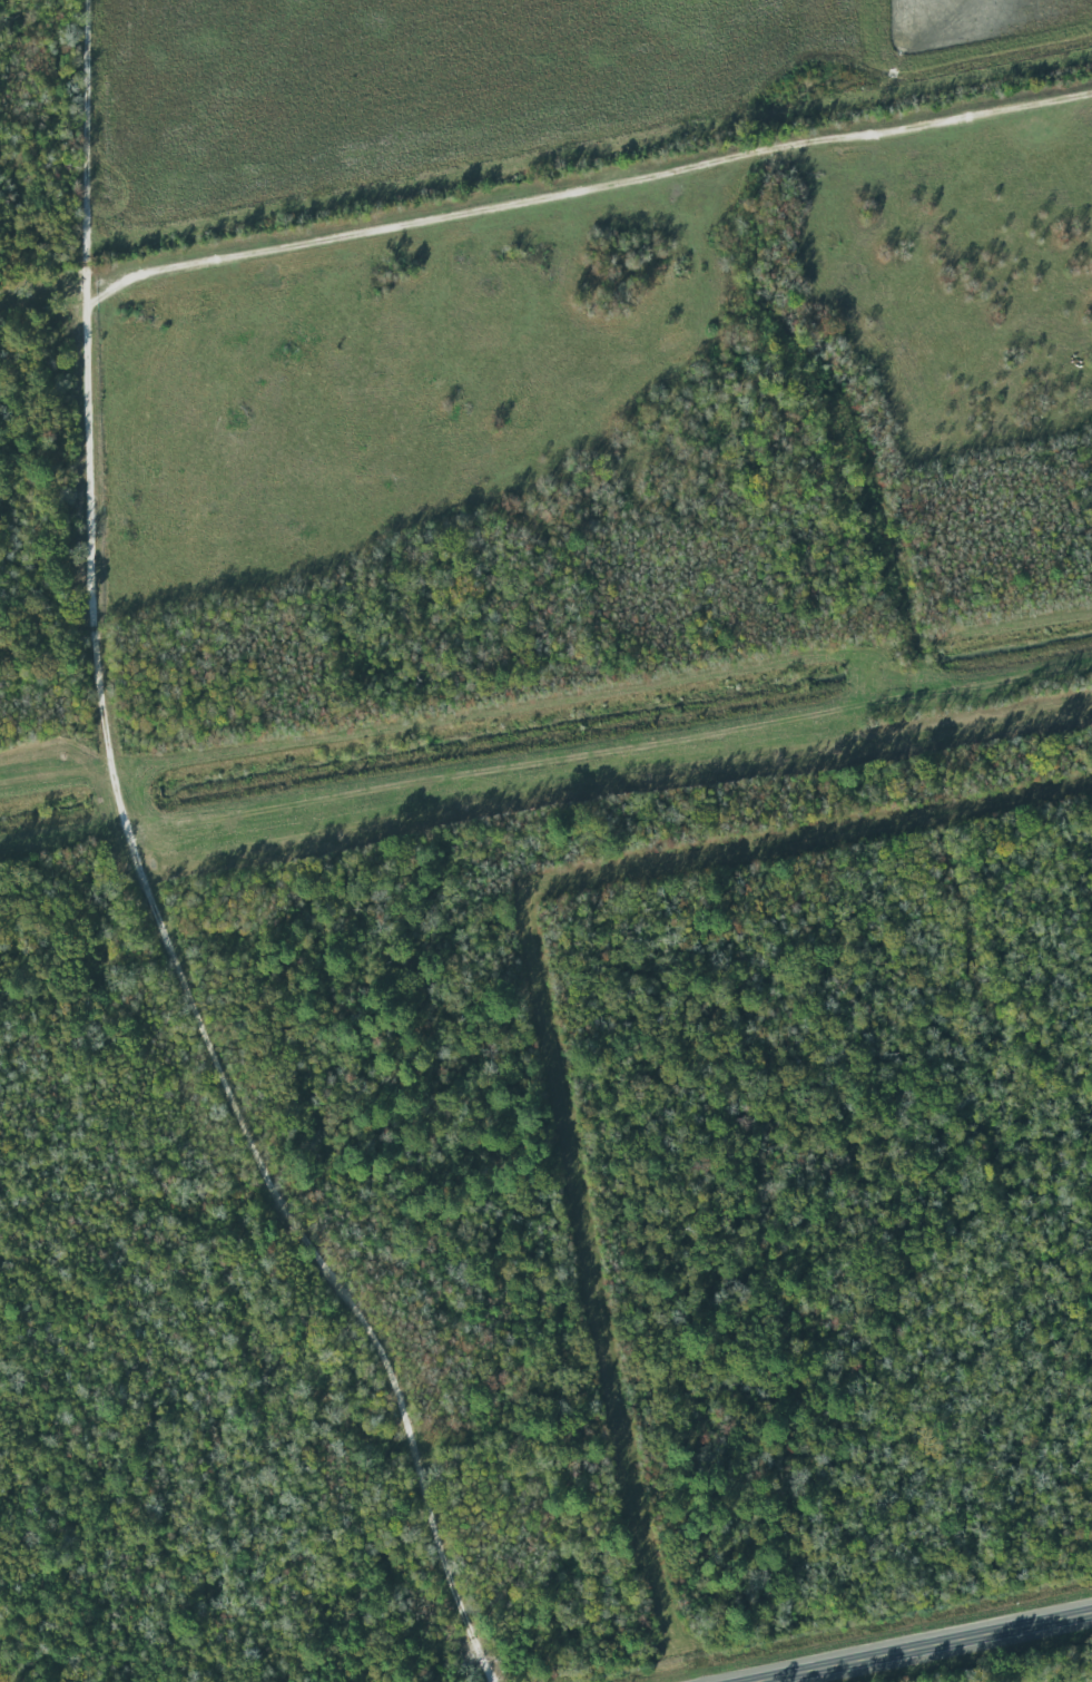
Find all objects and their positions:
road: (142, 877)
road: (917, 1645)

